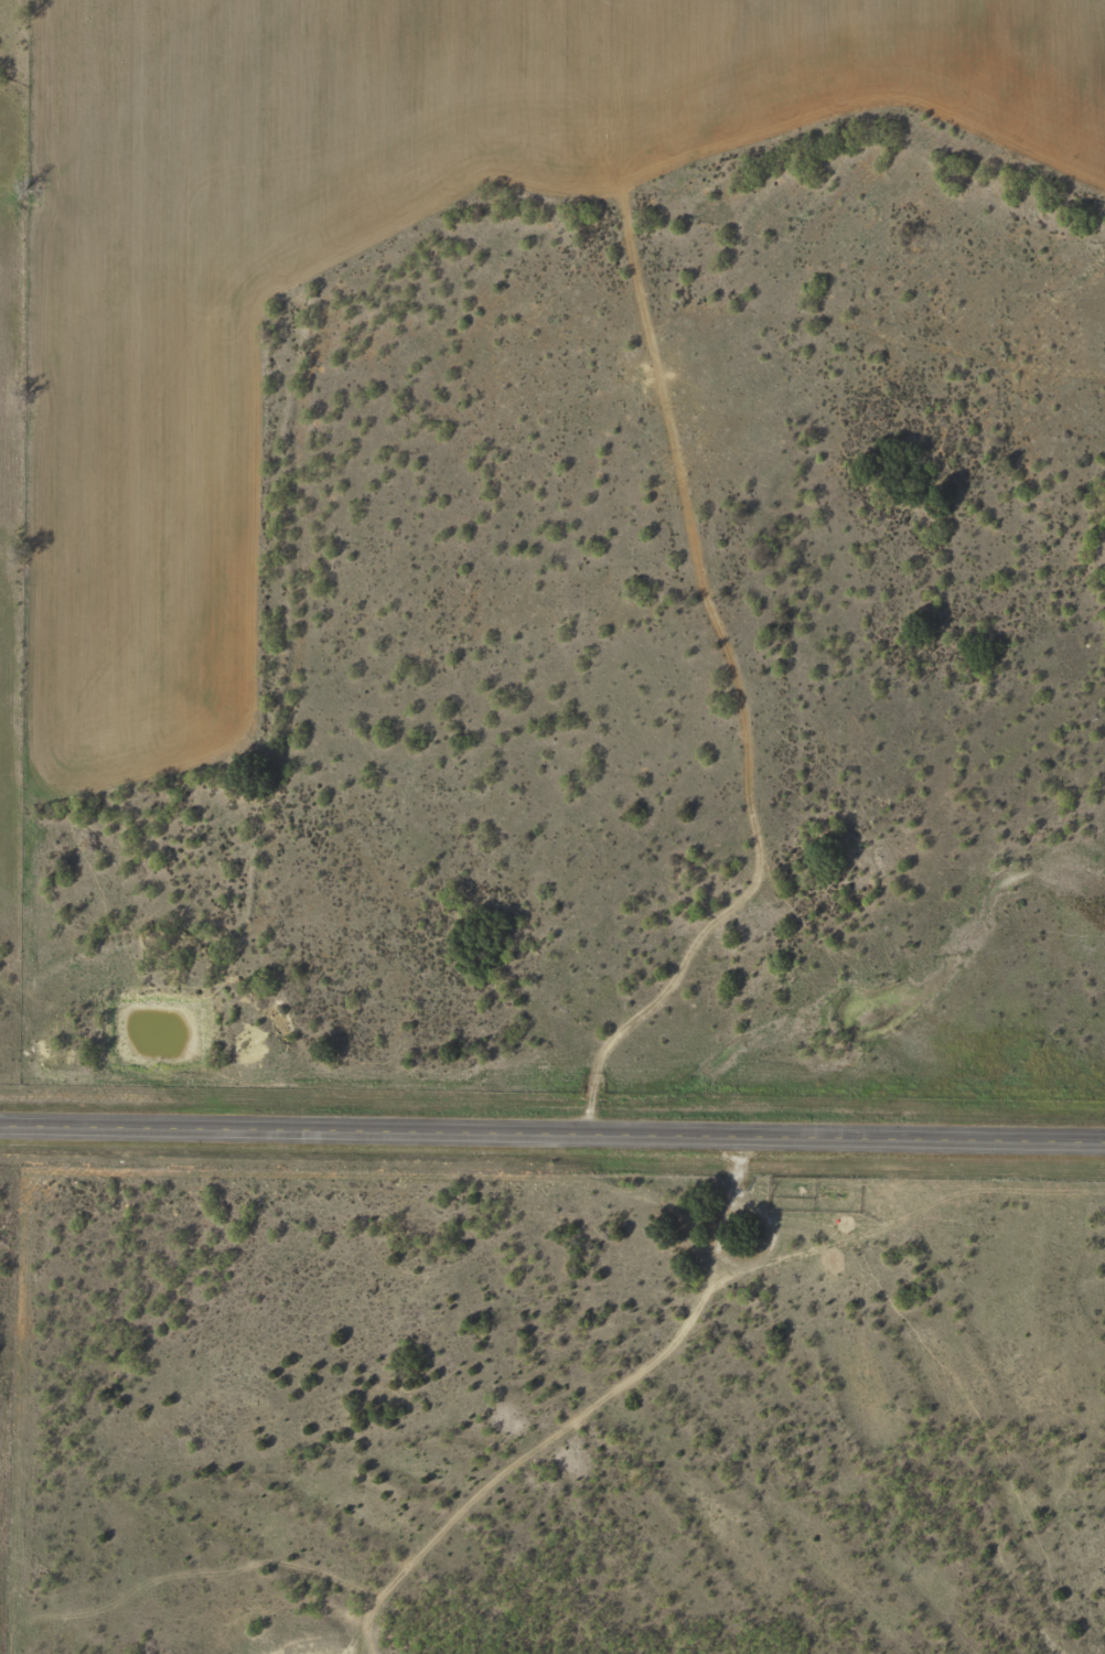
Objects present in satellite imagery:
road: (552, 1136)

